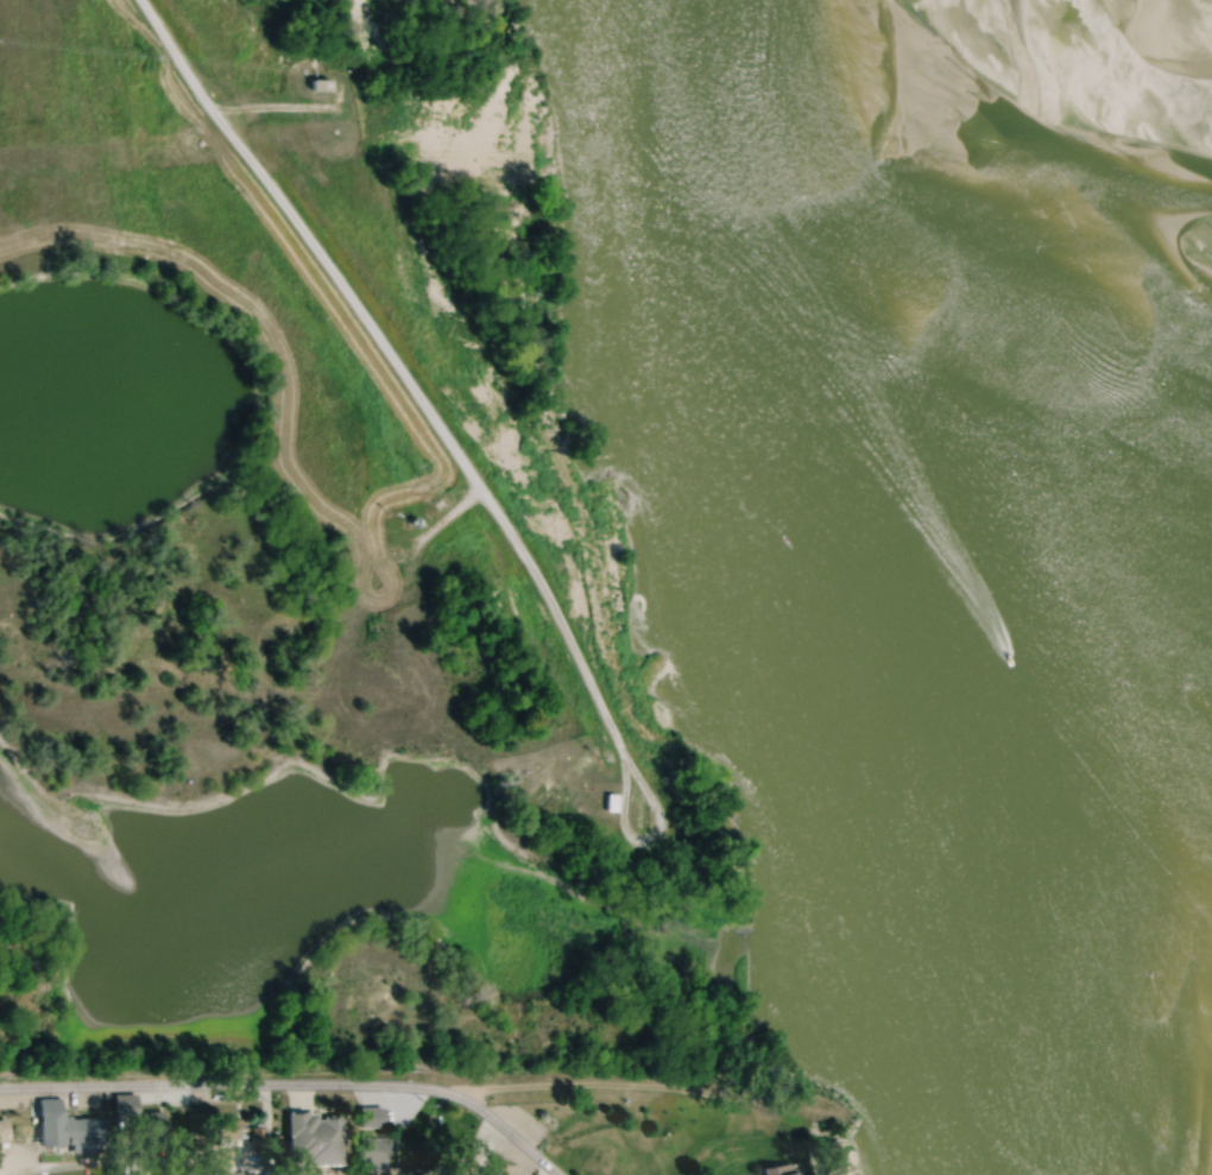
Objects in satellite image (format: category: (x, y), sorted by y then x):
building: (321, 86)
river: (1155, 141)
road: (400, 365)
building: (612, 803)
road: (630, 815)
road: (292, 1086)
building: (63, 1126)
building: (1, 1130)
building: (223, 1131)
building: (310, 1138)
building: (462, 1162)
building: (774, 1169)

